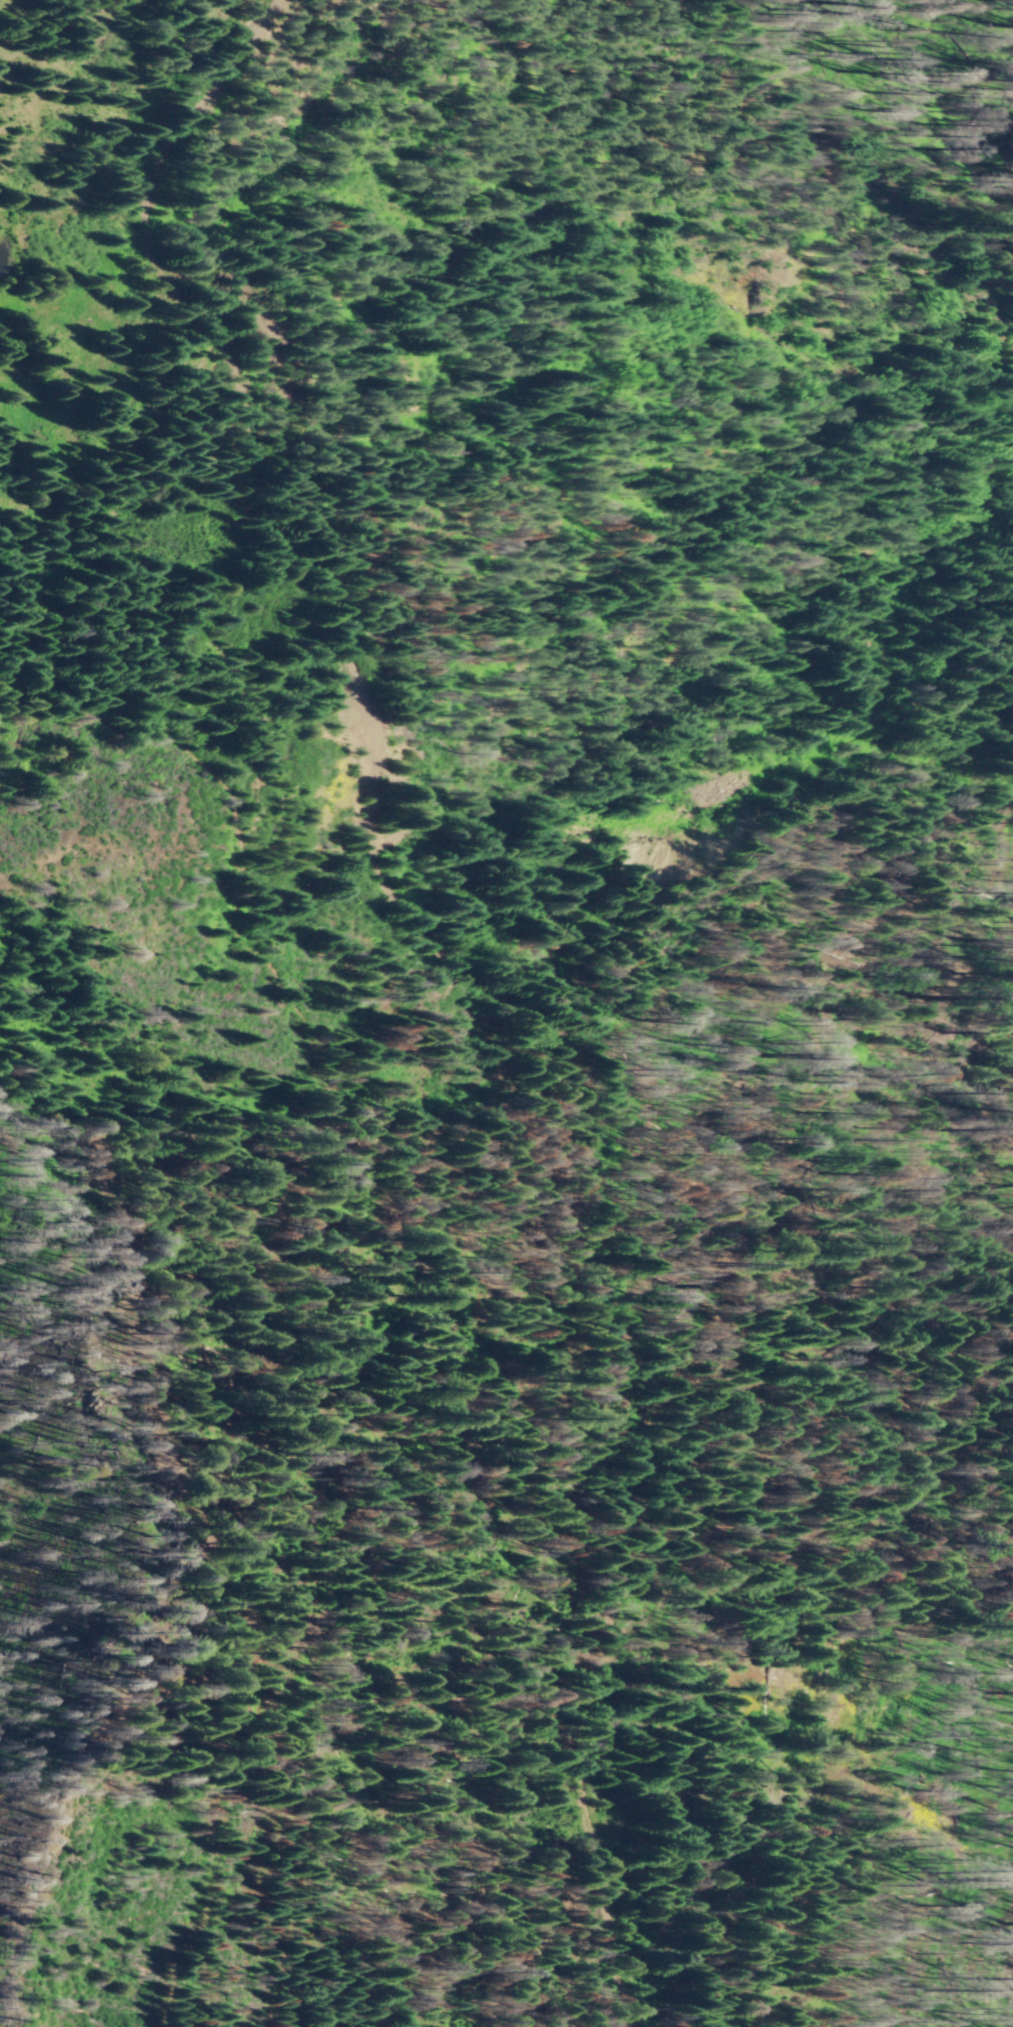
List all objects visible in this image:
road: (166, 31)
road: (455, 968)
road: (301, 1295)

